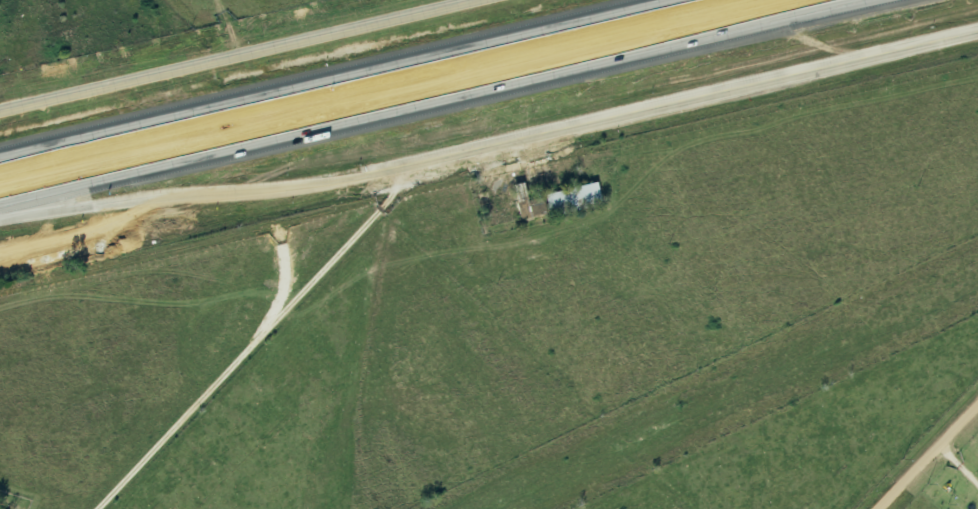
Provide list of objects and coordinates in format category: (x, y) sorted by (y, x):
road: (232, 54)
road: (335, 78)
road: (434, 99)
road: (691, 100)
building: (571, 198)
road: (202, 213)
road: (254, 342)
airport: (728, 389)
airport runway: (733, 389)
road: (927, 456)
road: (958, 465)

